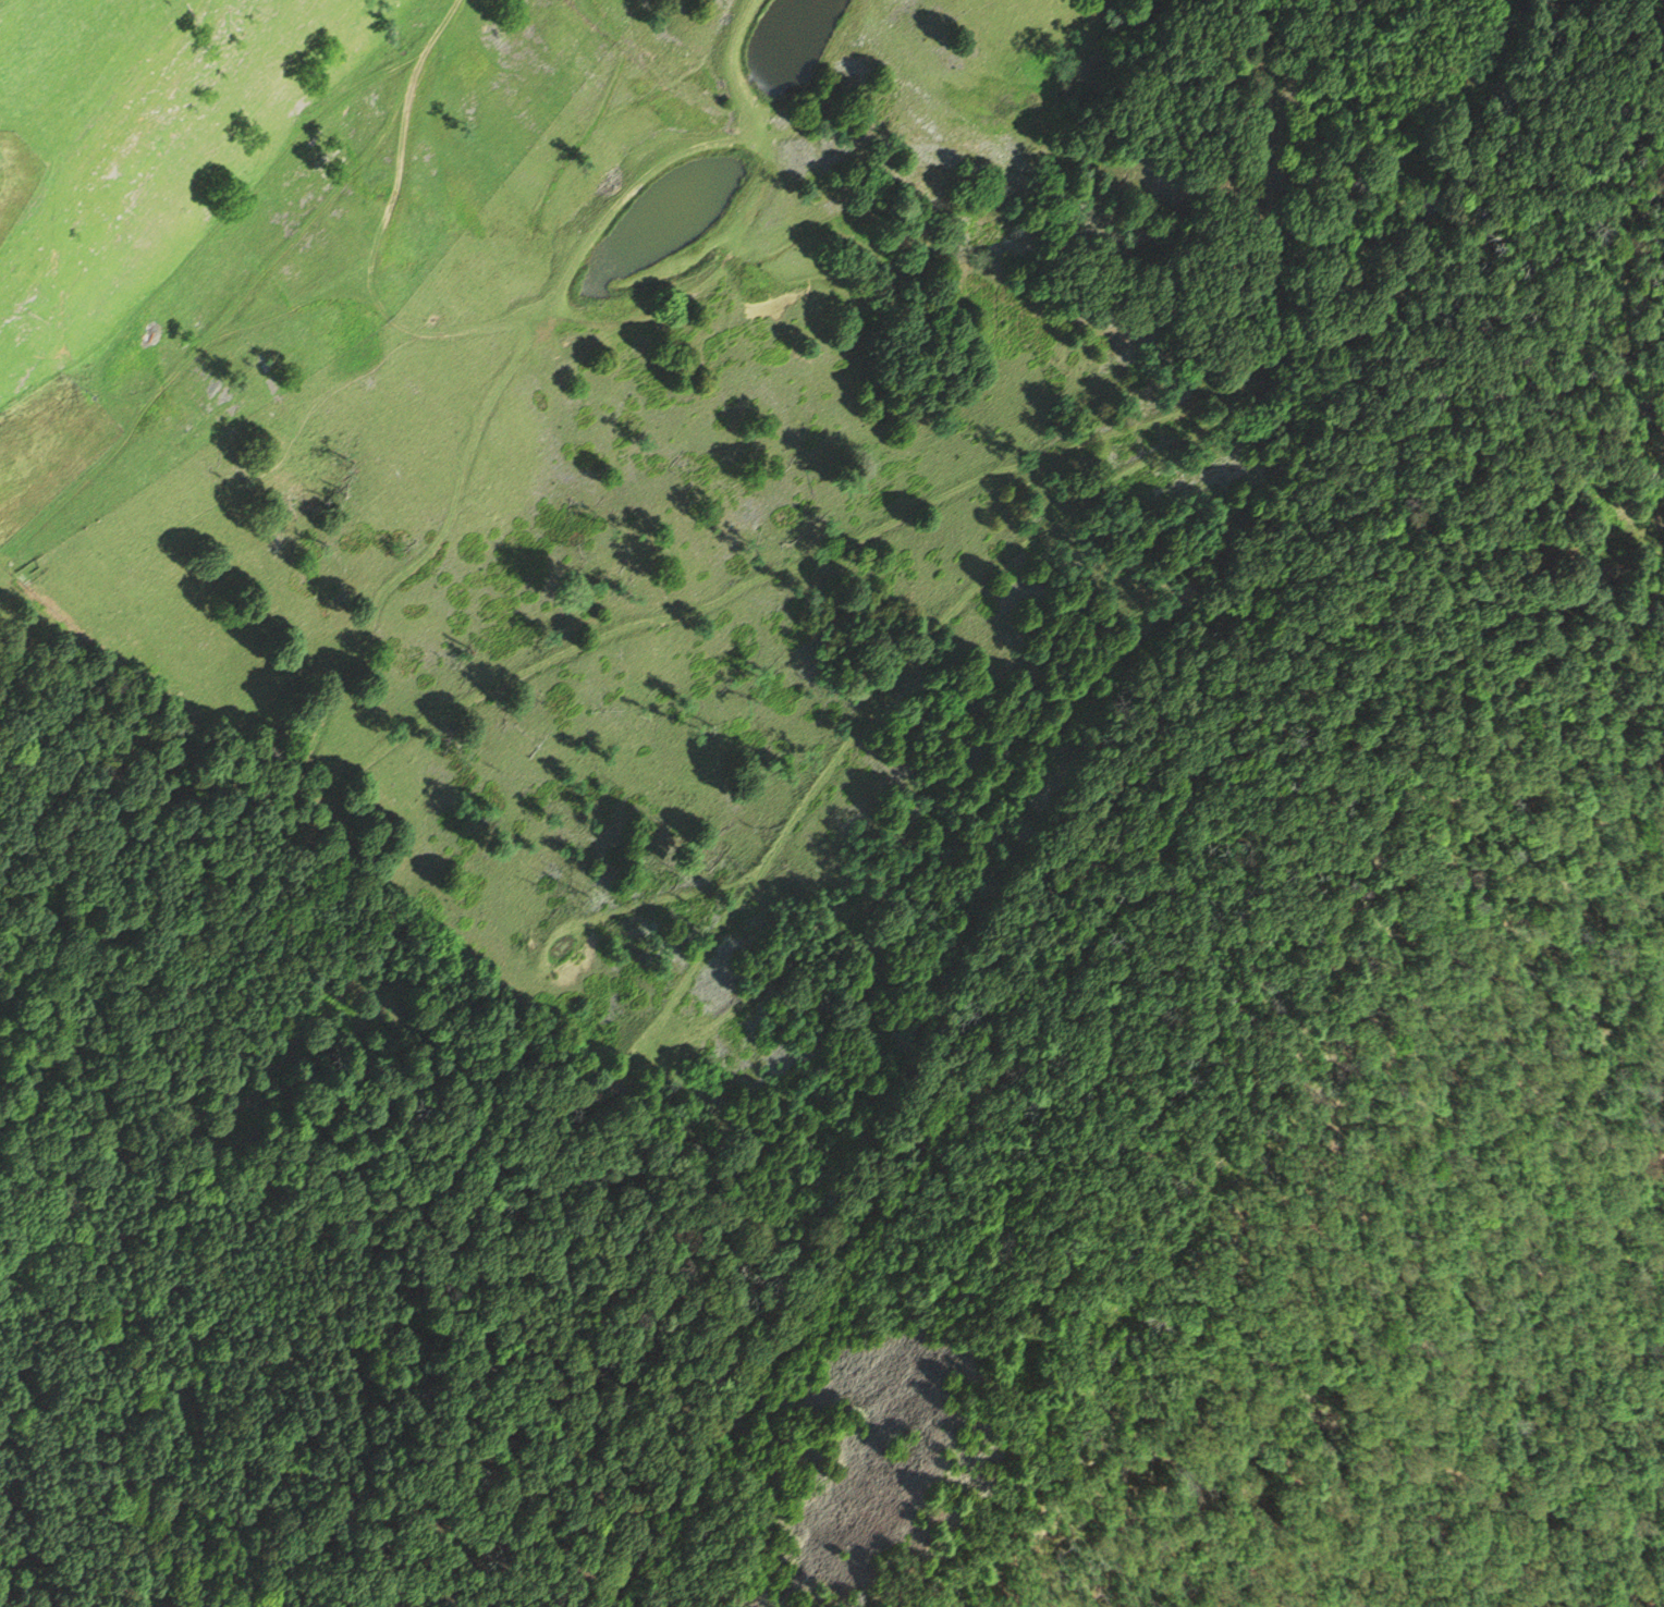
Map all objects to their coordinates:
road: (374, 278)
road: (252, 286)
road: (1091, 442)
road: (877, 1038)

